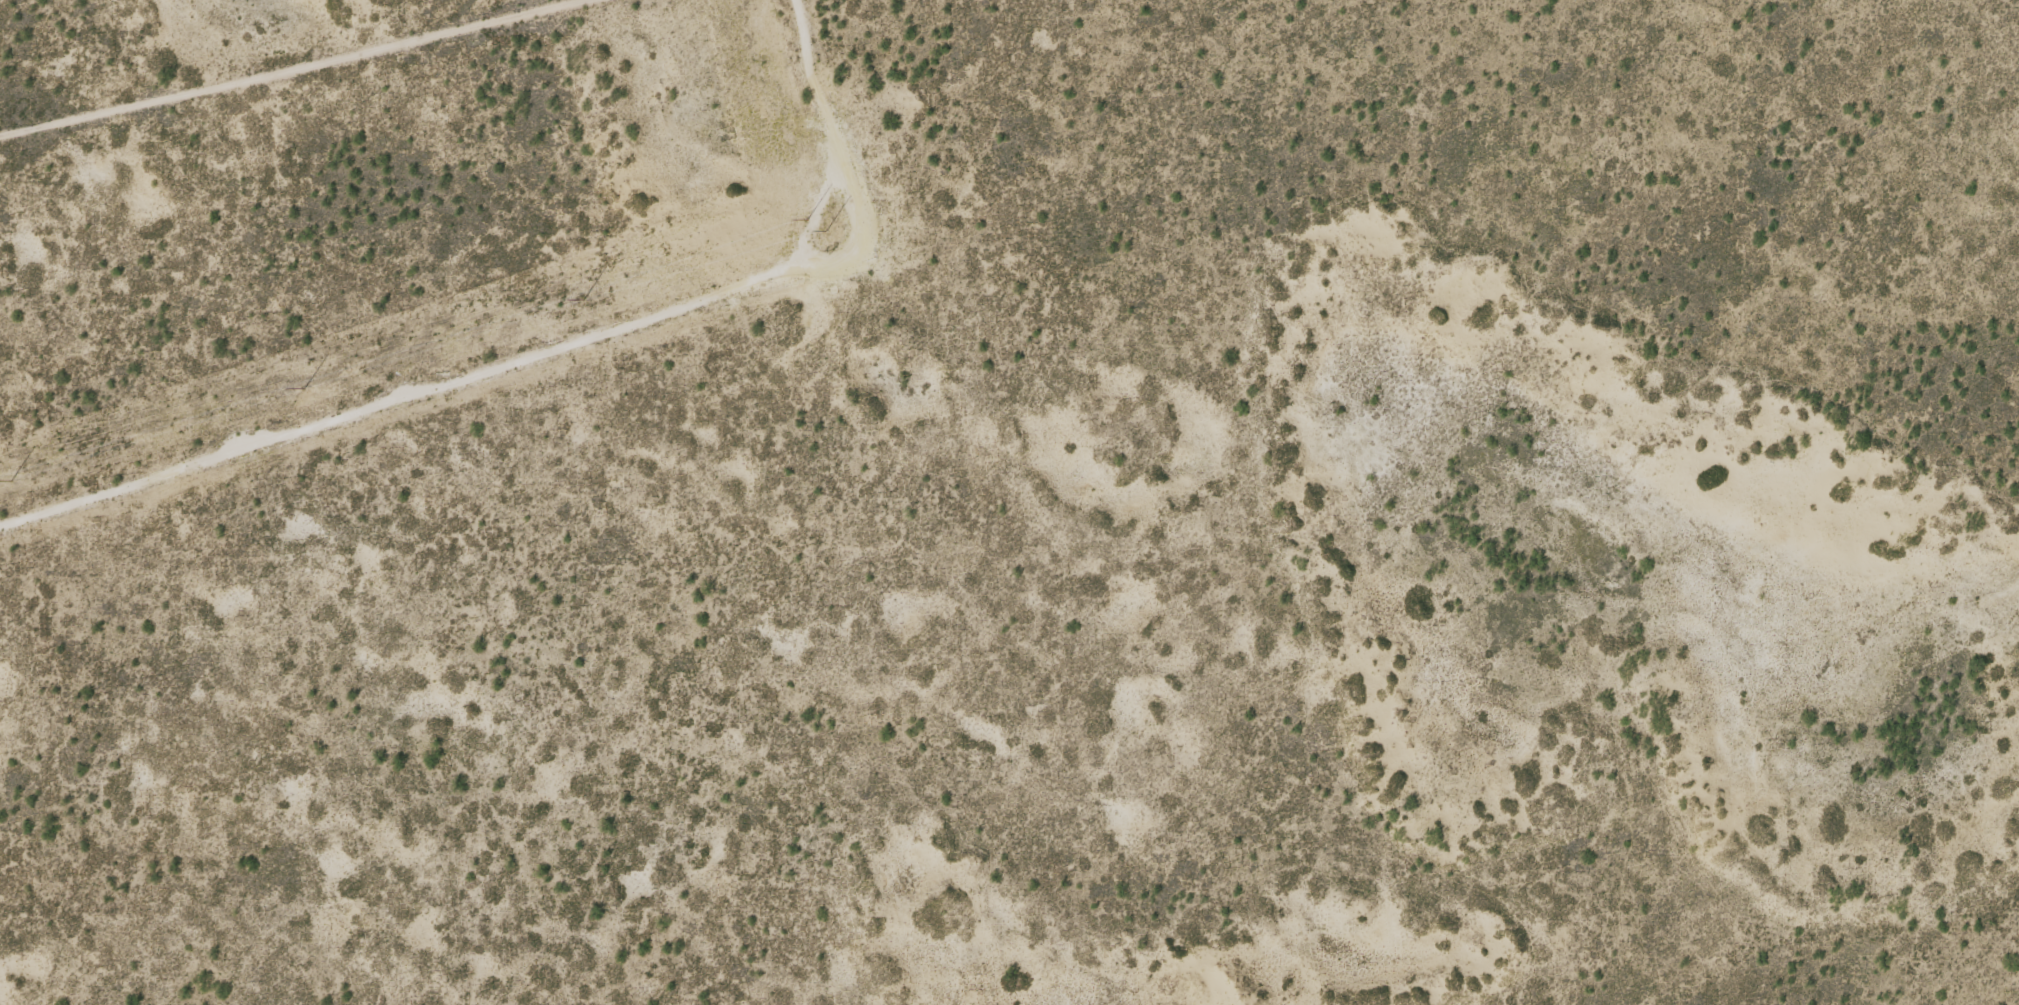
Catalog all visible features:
road: (295, 67)
power tower: (815, 221)
power tower: (584, 299)
power tower: (303, 389)
power tower: (10, 479)

